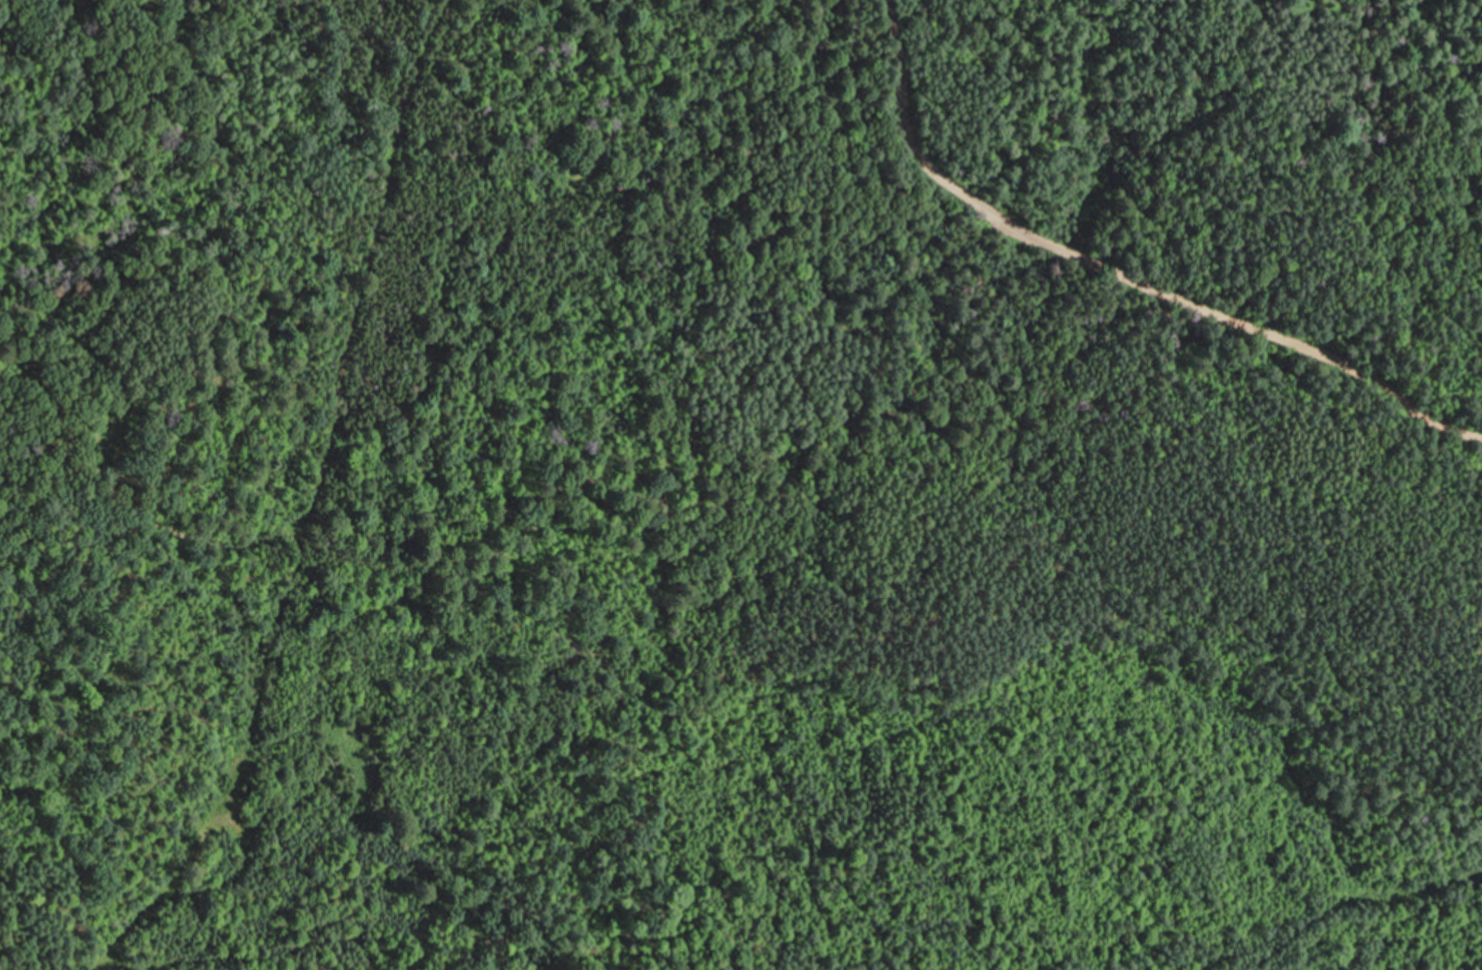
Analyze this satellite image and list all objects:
road: (1122, 271)
road: (159, 898)
road: (1357, 901)

